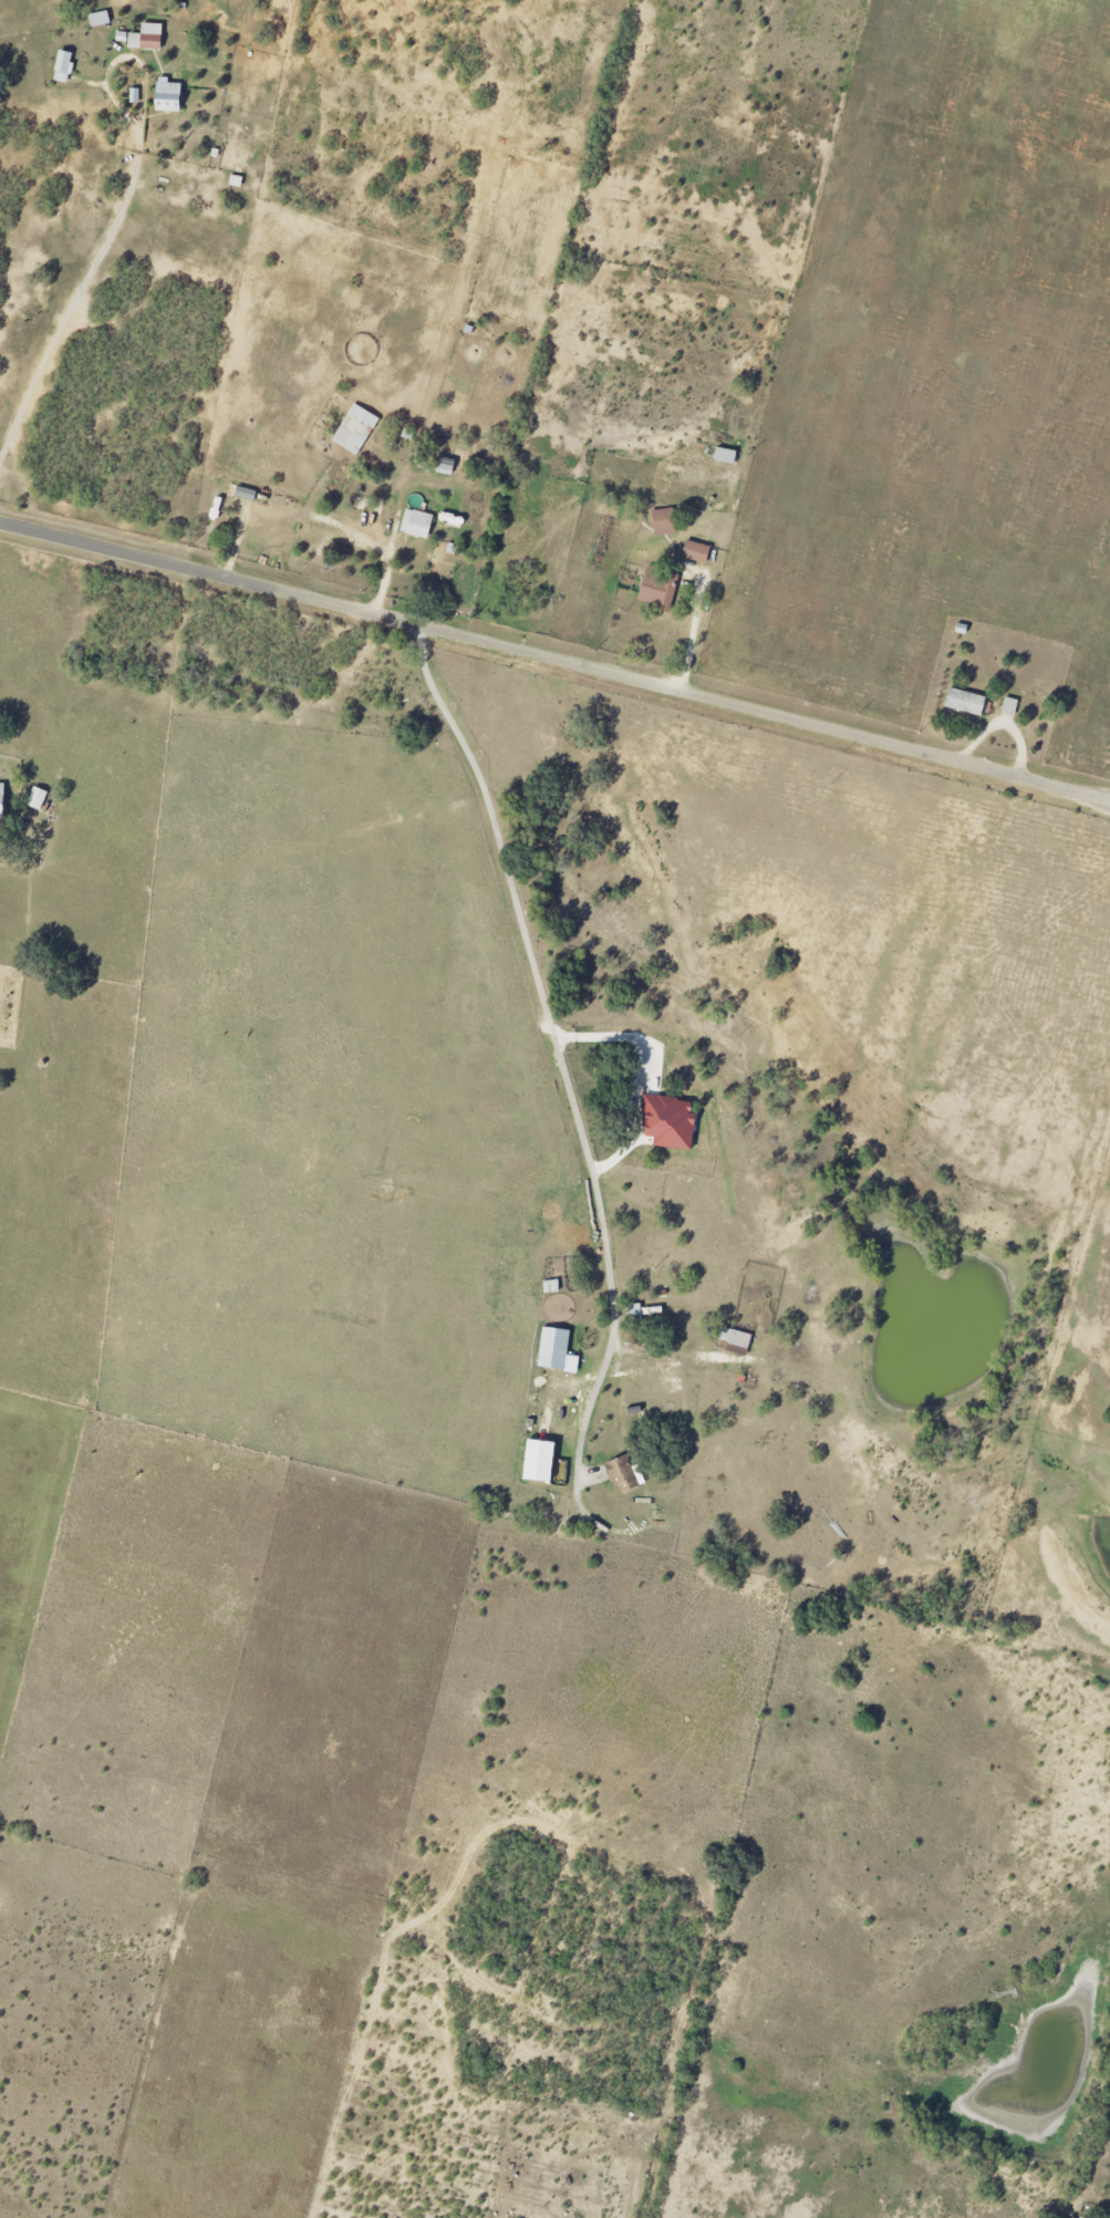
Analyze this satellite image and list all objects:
building: (100, 19)
building: (148, 38)
road: (123, 61)
building: (64, 66)
building: (170, 96)
road: (75, 292)
building: (355, 429)
building: (665, 522)
building: (418, 524)
building: (696, 552)
building: (658, 589)
road: (694, 633)
road: (556, 661)
building: (965, 702)
building: (1009, 707)
building: (38, 799)
building: (3, 802)
road: (552, 1037)
building: (672, 1123)
building: (551, 1287)
building: (554, 1348)
building: (542, 1461)
building: (624, 1475)

